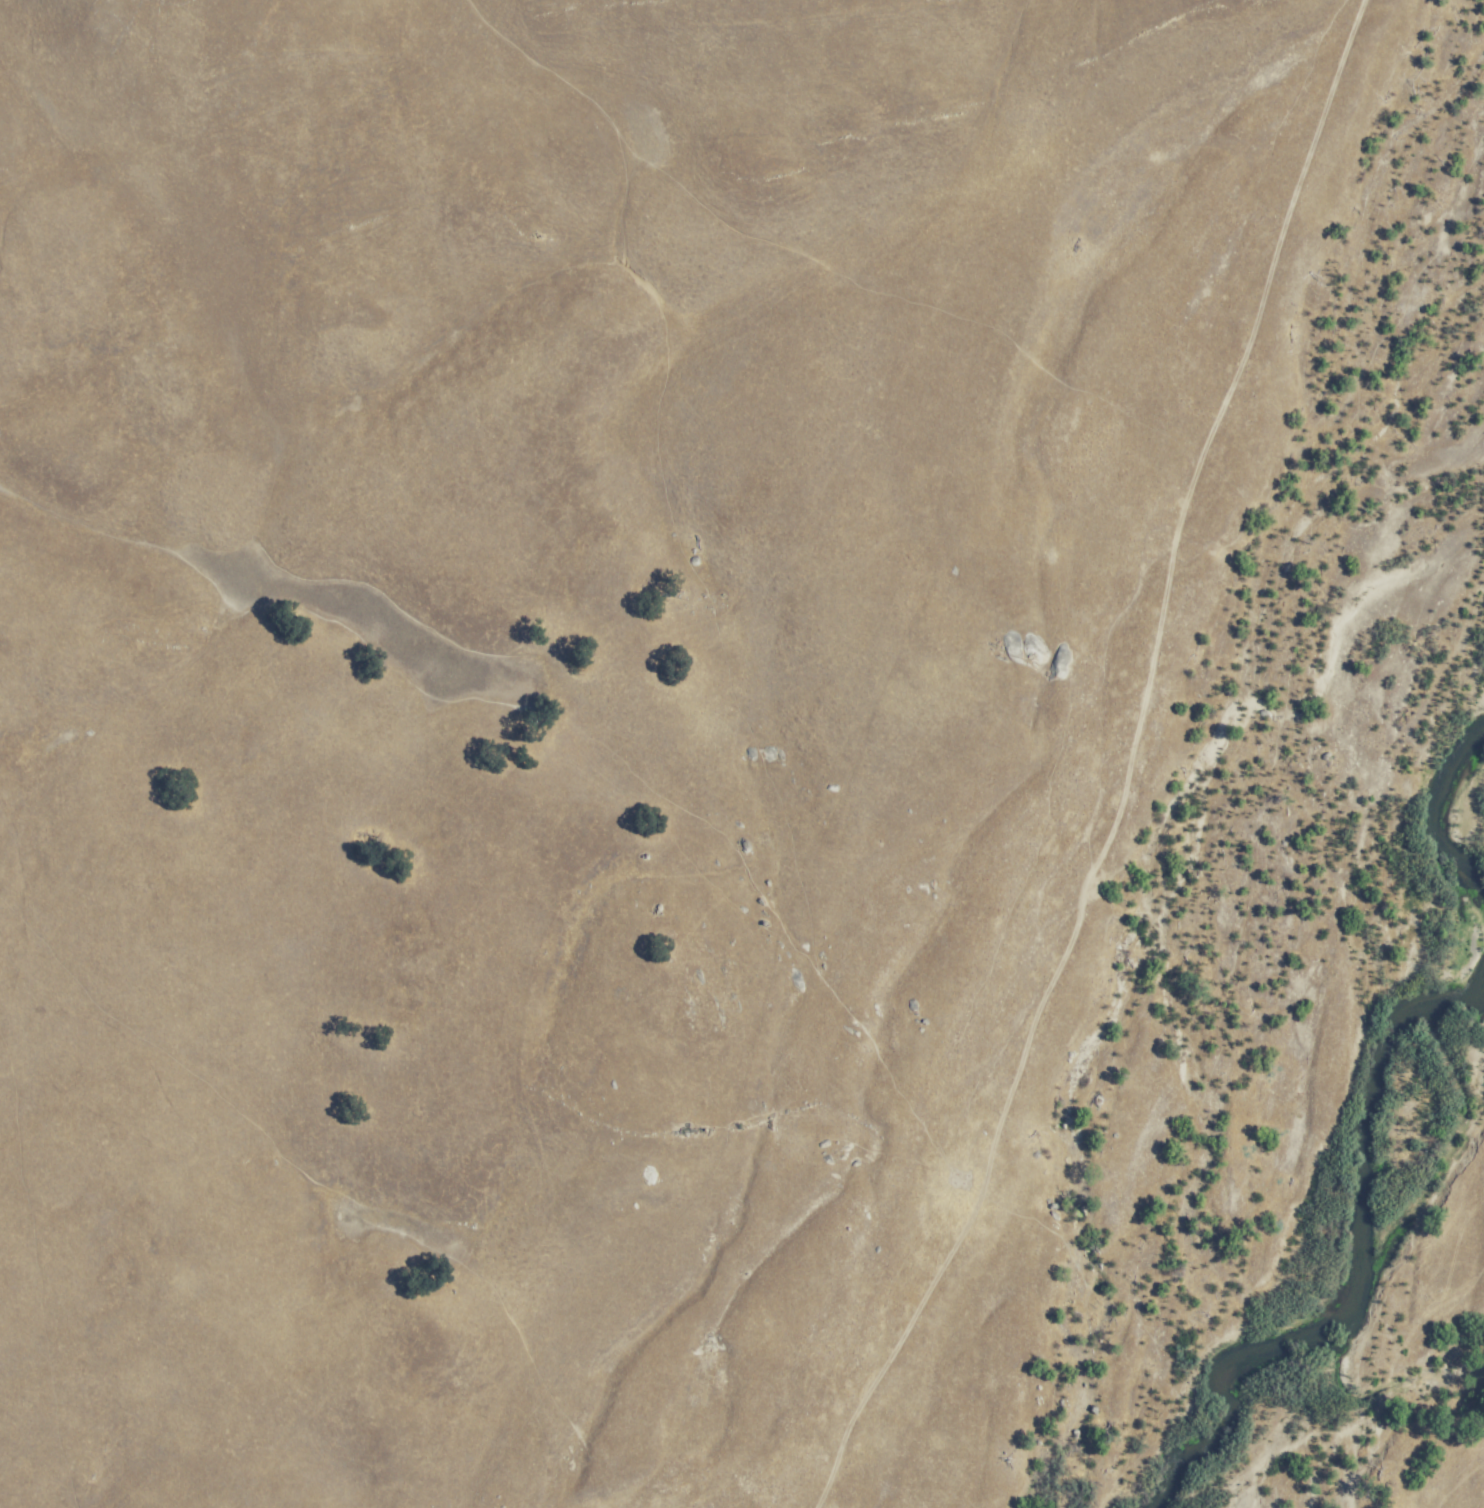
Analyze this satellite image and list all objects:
river: (1435, 1152)

